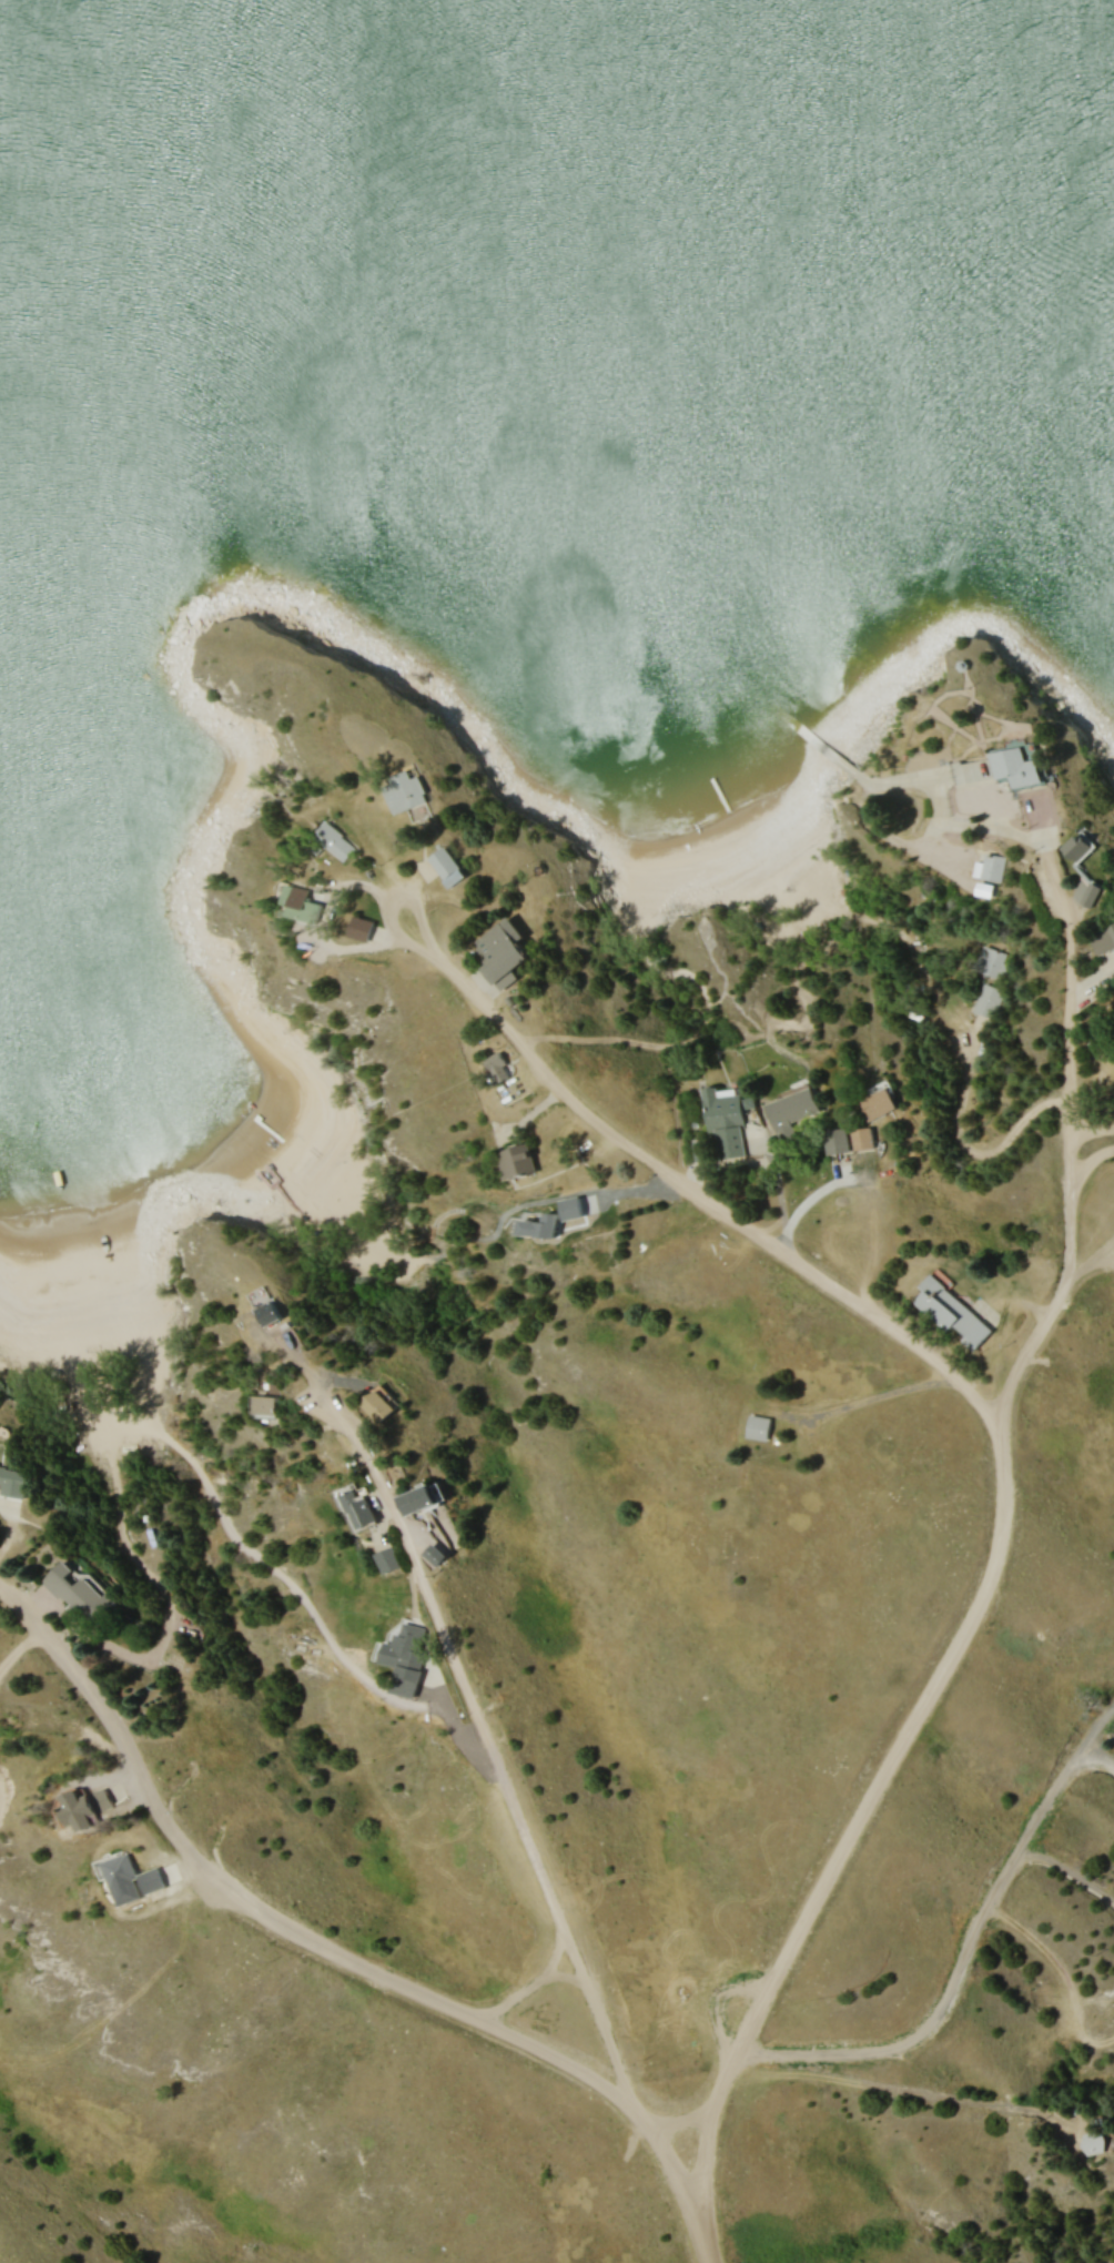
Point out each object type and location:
building: (1023, 768)
building: (971, 774)
building: (408, 790)
building: (336, 841)
building: (1084, 847)
building: (449, 867)
building: (990, 867)
building: (1095, 895)
building: (303, 905)
building: (1103, 940)
building: (507, 953)
building: (991, 962)
building: (986, 1001)
building: (502, 1068)
building: (880, 1103)
building: (794, 1113)
building: (732, 1124)
building: (864, 1139)
road: (970, 1144)
road: (1070, 1144)
building: (838, 1146)
road: (1091, 1160)
building: (519, 1163)
building: (545, 1230)
building: (283, 1314)
building: (956, 1316)
building: (387, 1404)
building: (276, 1405)
building: (760, 1428)
road: (1001, 1453)
building: (13, 1482)
building: (425, 1499)
building: (364, 1511)
building: (439, 1555)
building: (393, 1559)
building: (79, 1592)
building: (408, 1647)
building: (88, 1808)
road: (523, 1826)
building: (122, 1871)
road: (254, 1905)
road: (965, 1942)
building: (1106, 2004)
building: (1101, 2141)

